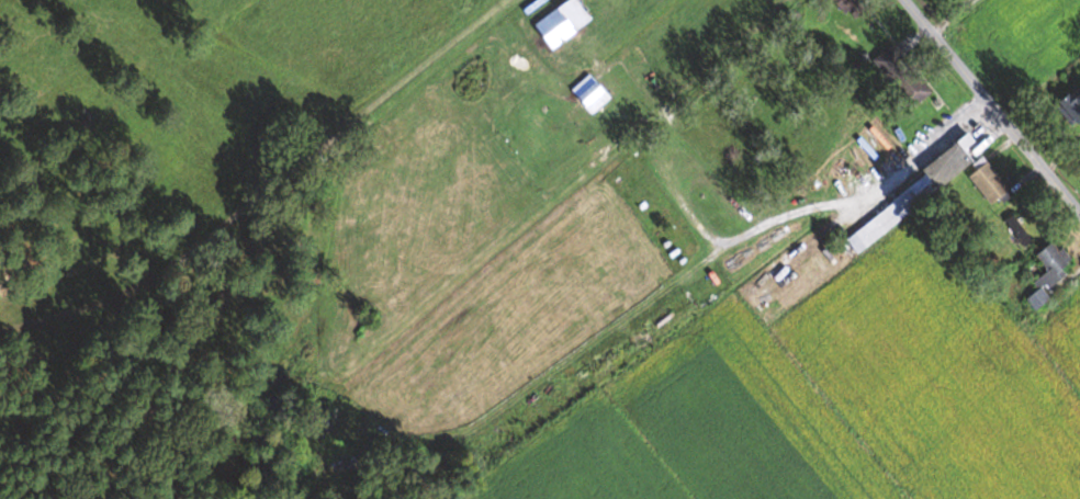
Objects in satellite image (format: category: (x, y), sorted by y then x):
building: (851, 7)
building: (565, 22)
building: (904, 76)
building: (593, 92)
building: (1072, 106)
road: (991, 107)
building: (933, 190)
building: (1019, 230)
building: (1051, 272)

